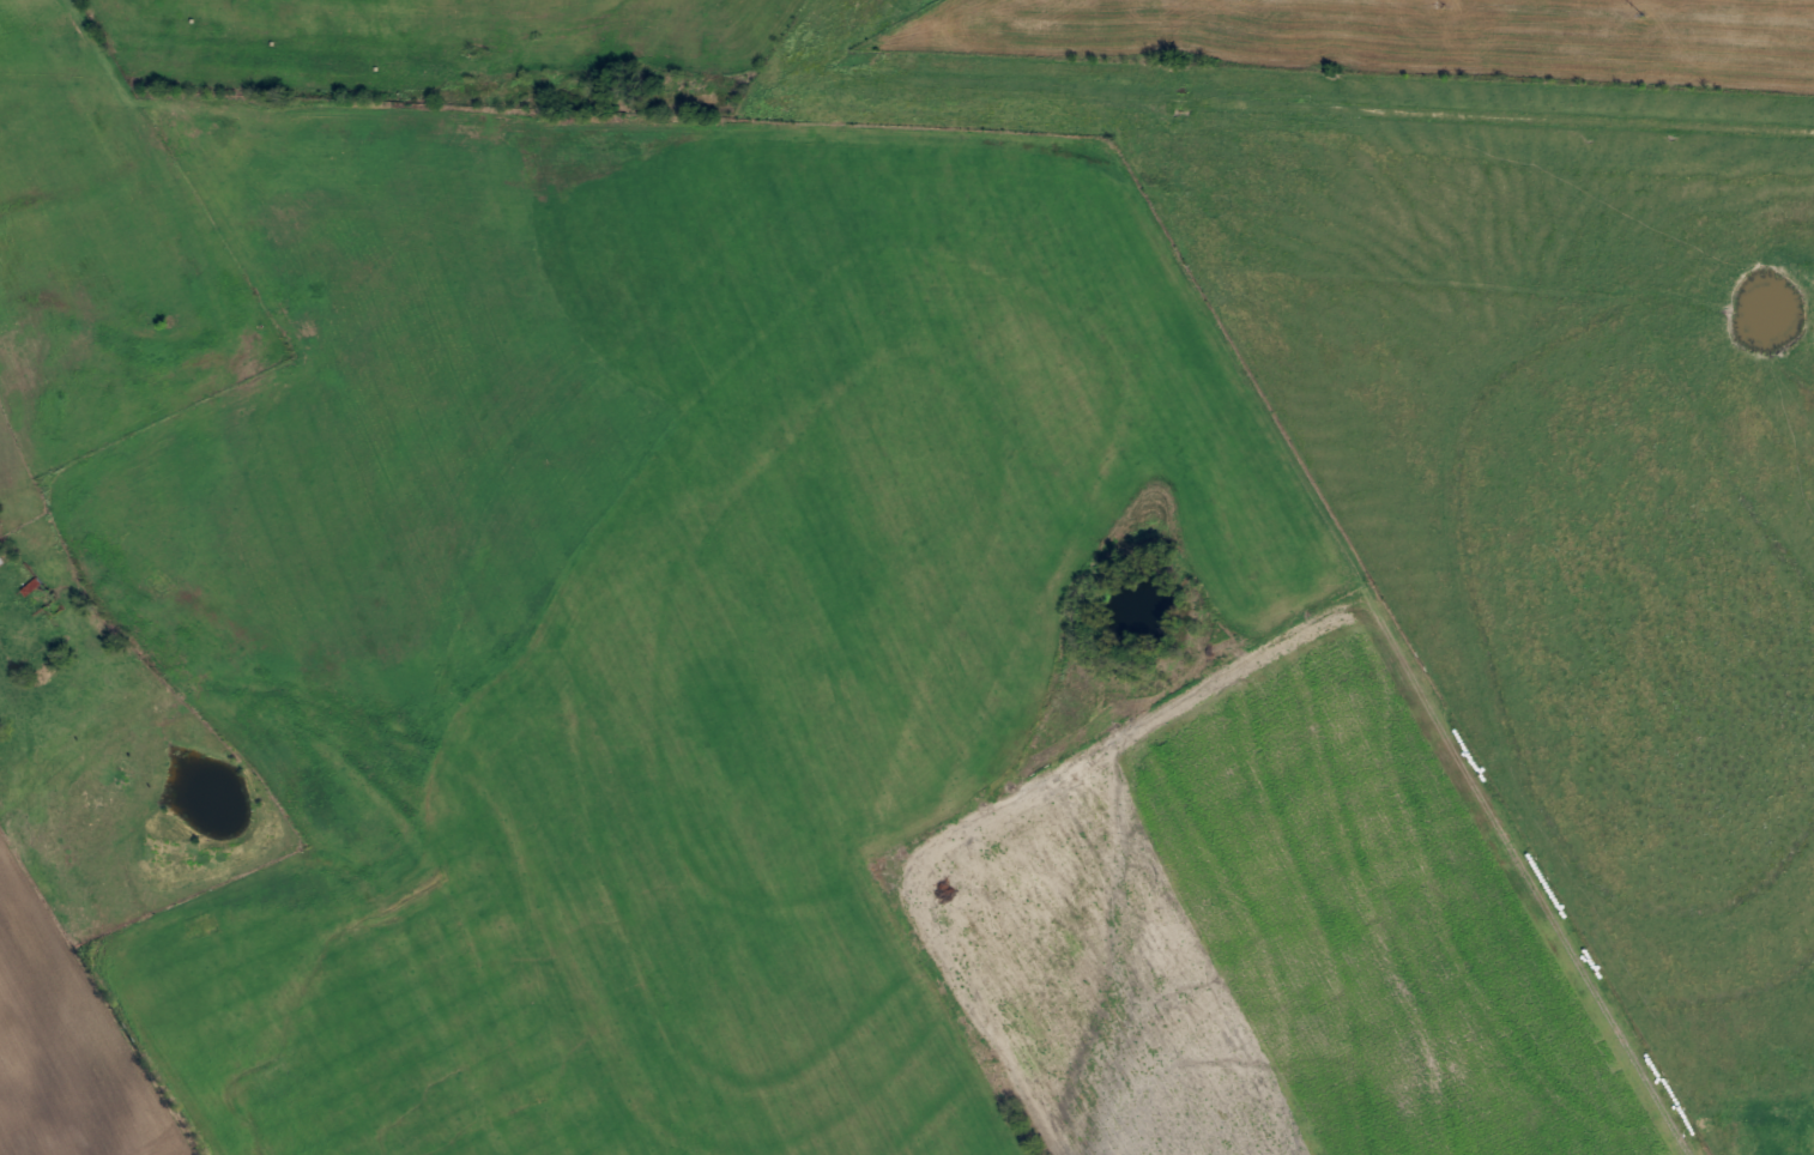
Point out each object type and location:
railway: (907, 87)
road: (211, 283)
building: (0, 560)

